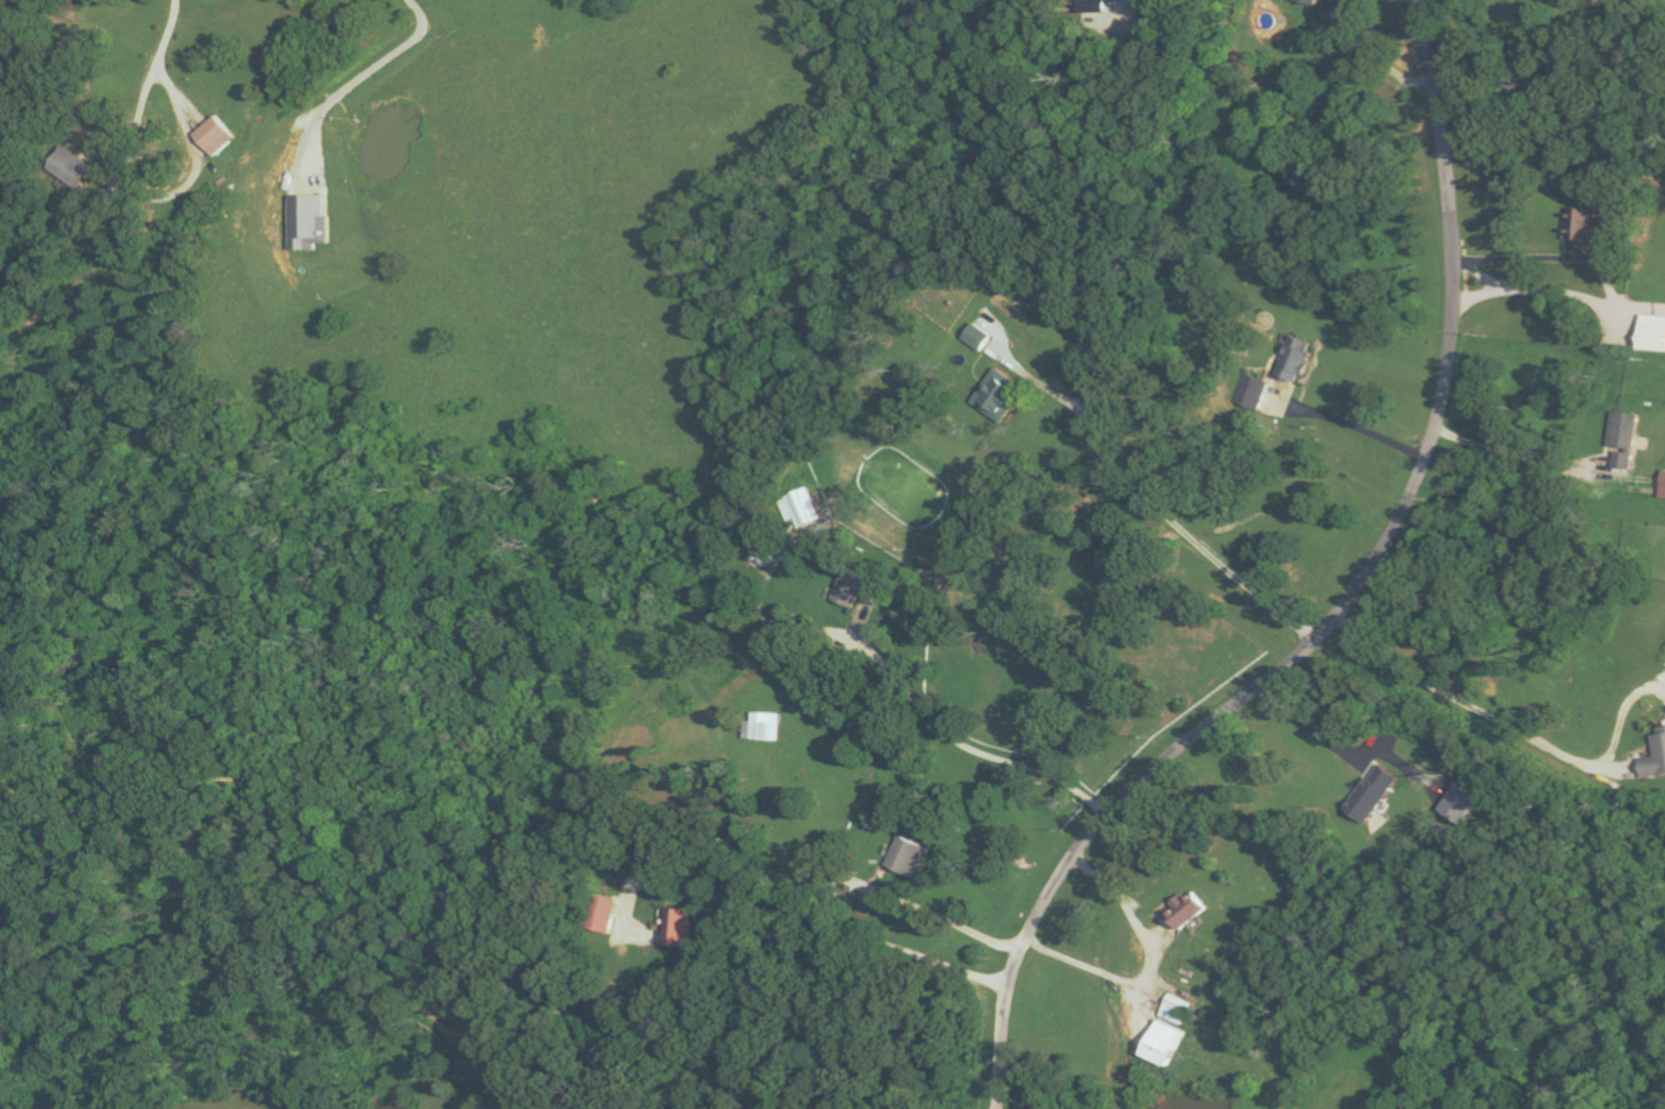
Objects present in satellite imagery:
road: (1613, 0)
building: (1092, 6)
road: (169, 34)
road: (363, 77)
building: (216, 136)
building: (67, 166)
building: (307, 222)
building: (1580, 224)
road: (1610, 286)
road: (1480, 293)
building: (1652, 333)
building: (978, 336)
building: (1296, 358)
building: (1250, 391)
building: (998, 394)
road: (1355, 424)
building: (1624, 439)
road: (1515, 454)
building: (1663, 486)
building: (813, 507)
road: (1188, 531)
building: (861, 588)
road: (1344, 609)
road: (1479, 709)
road: (1307, 725)
building: (763, 726)
road: (969, 746)
building: (1655, 761)
building: (1373, 794)
building: (1459, 804)
building: (905, 857)
road: (815, 909)
building: (1185, 912)
building: (599, 914)
road: (966, 927)
building: (680, 928)
road: (1147, 969)
building: (1174, 1010)
building: (1162, 1044)

